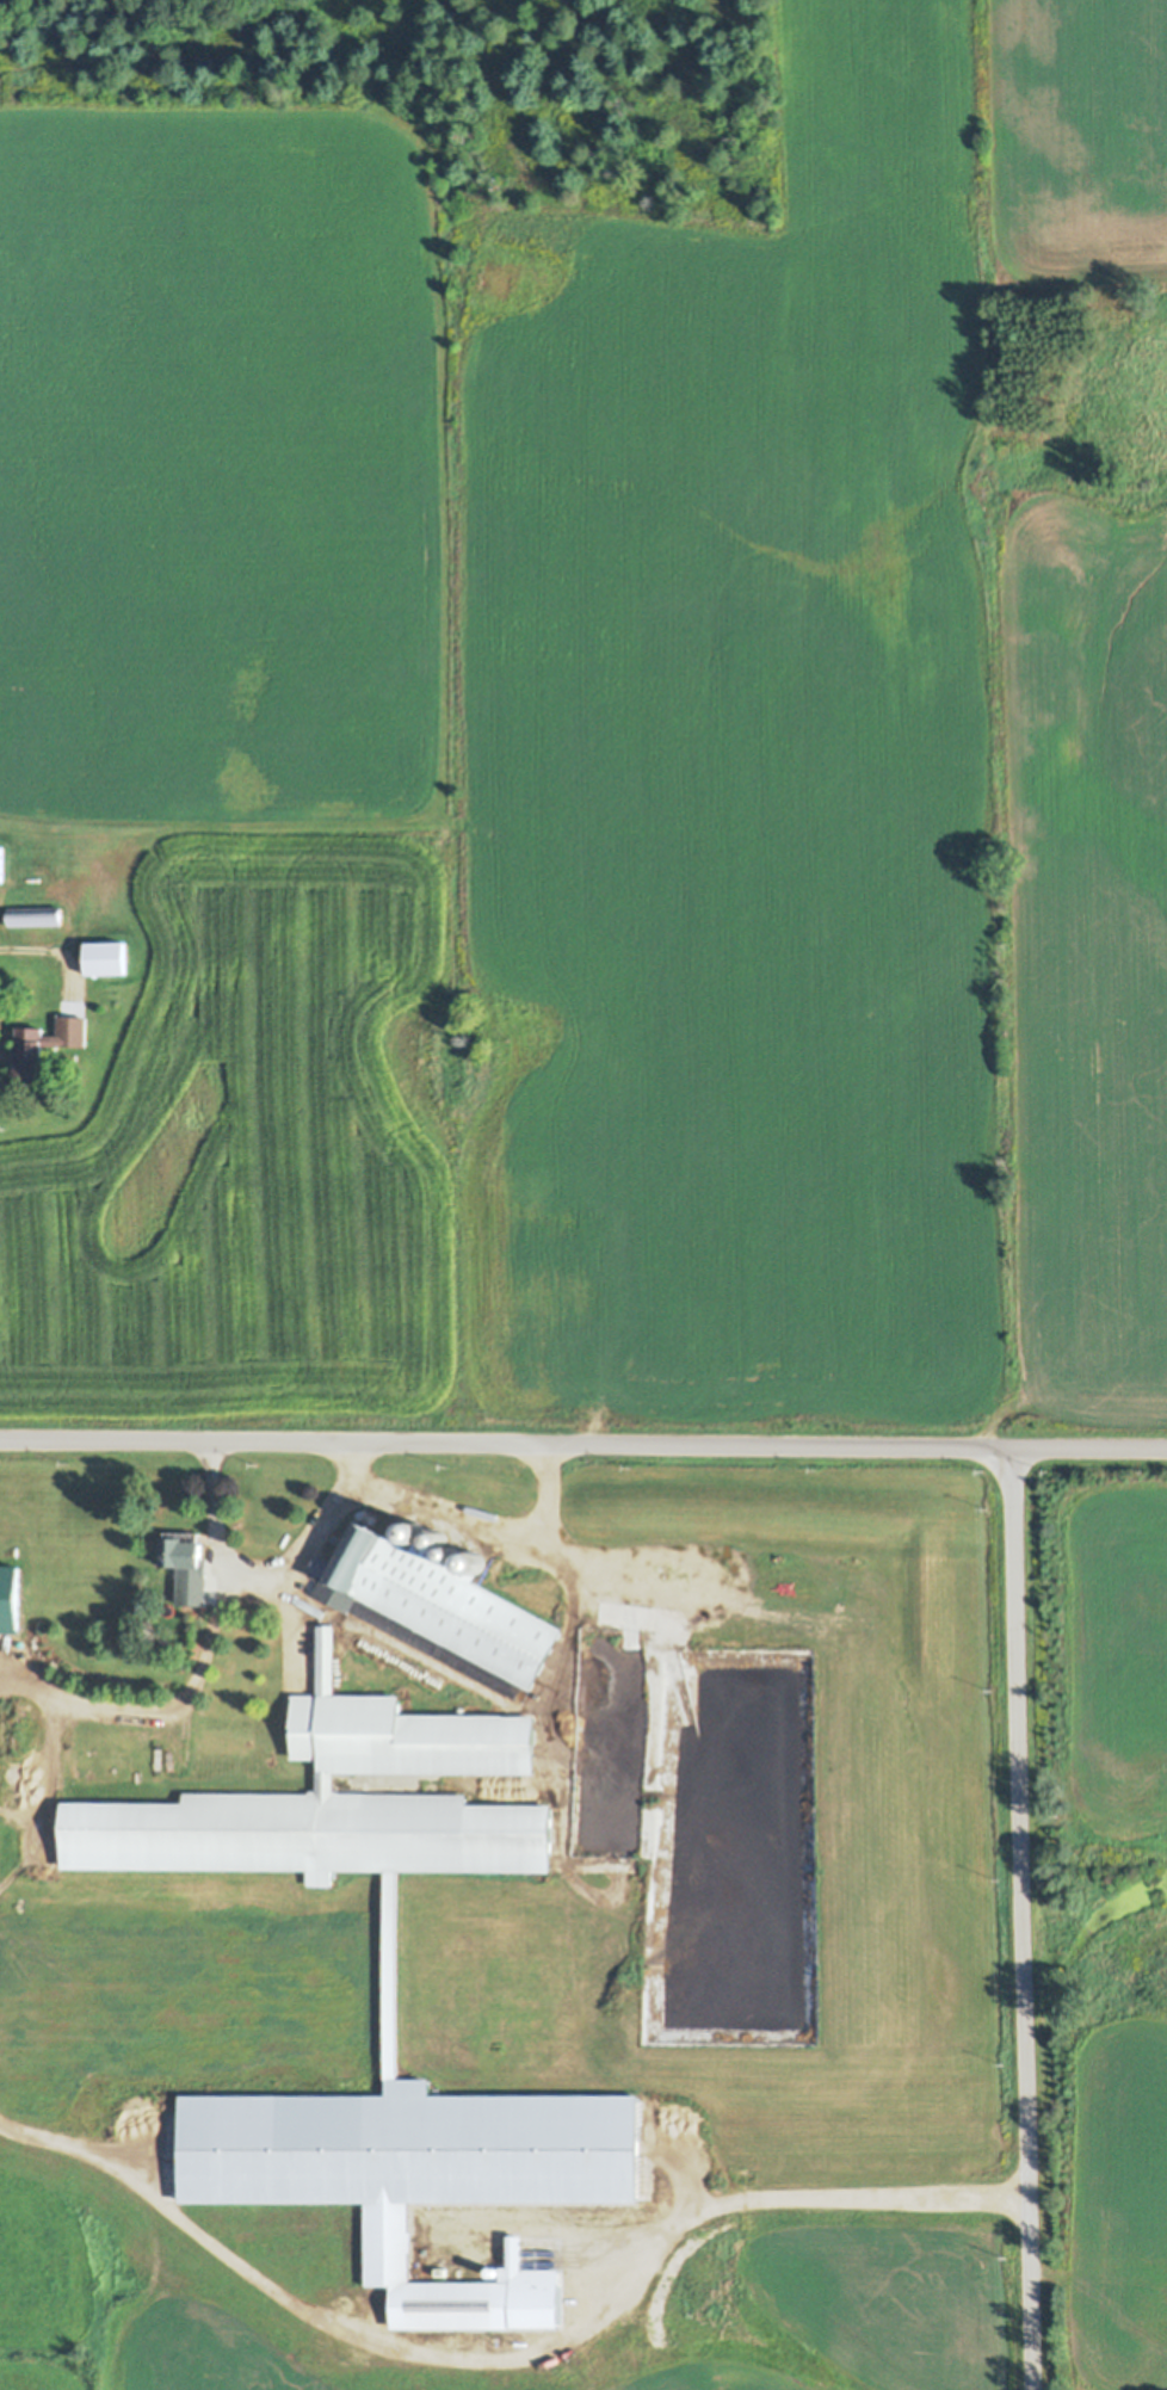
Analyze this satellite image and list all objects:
building: (1, 865)
road: (44, 945)
building: (105, 958)
building: (31, 1054)
road: (582, 1445)
road: (455, 1517)
road: (241, 1570)
building: (187, 1571)
building: (439, 1610)
road: (161, 1704)
building: (336, 1795)
road: (1019, 1920)
road: (508, 2359)

